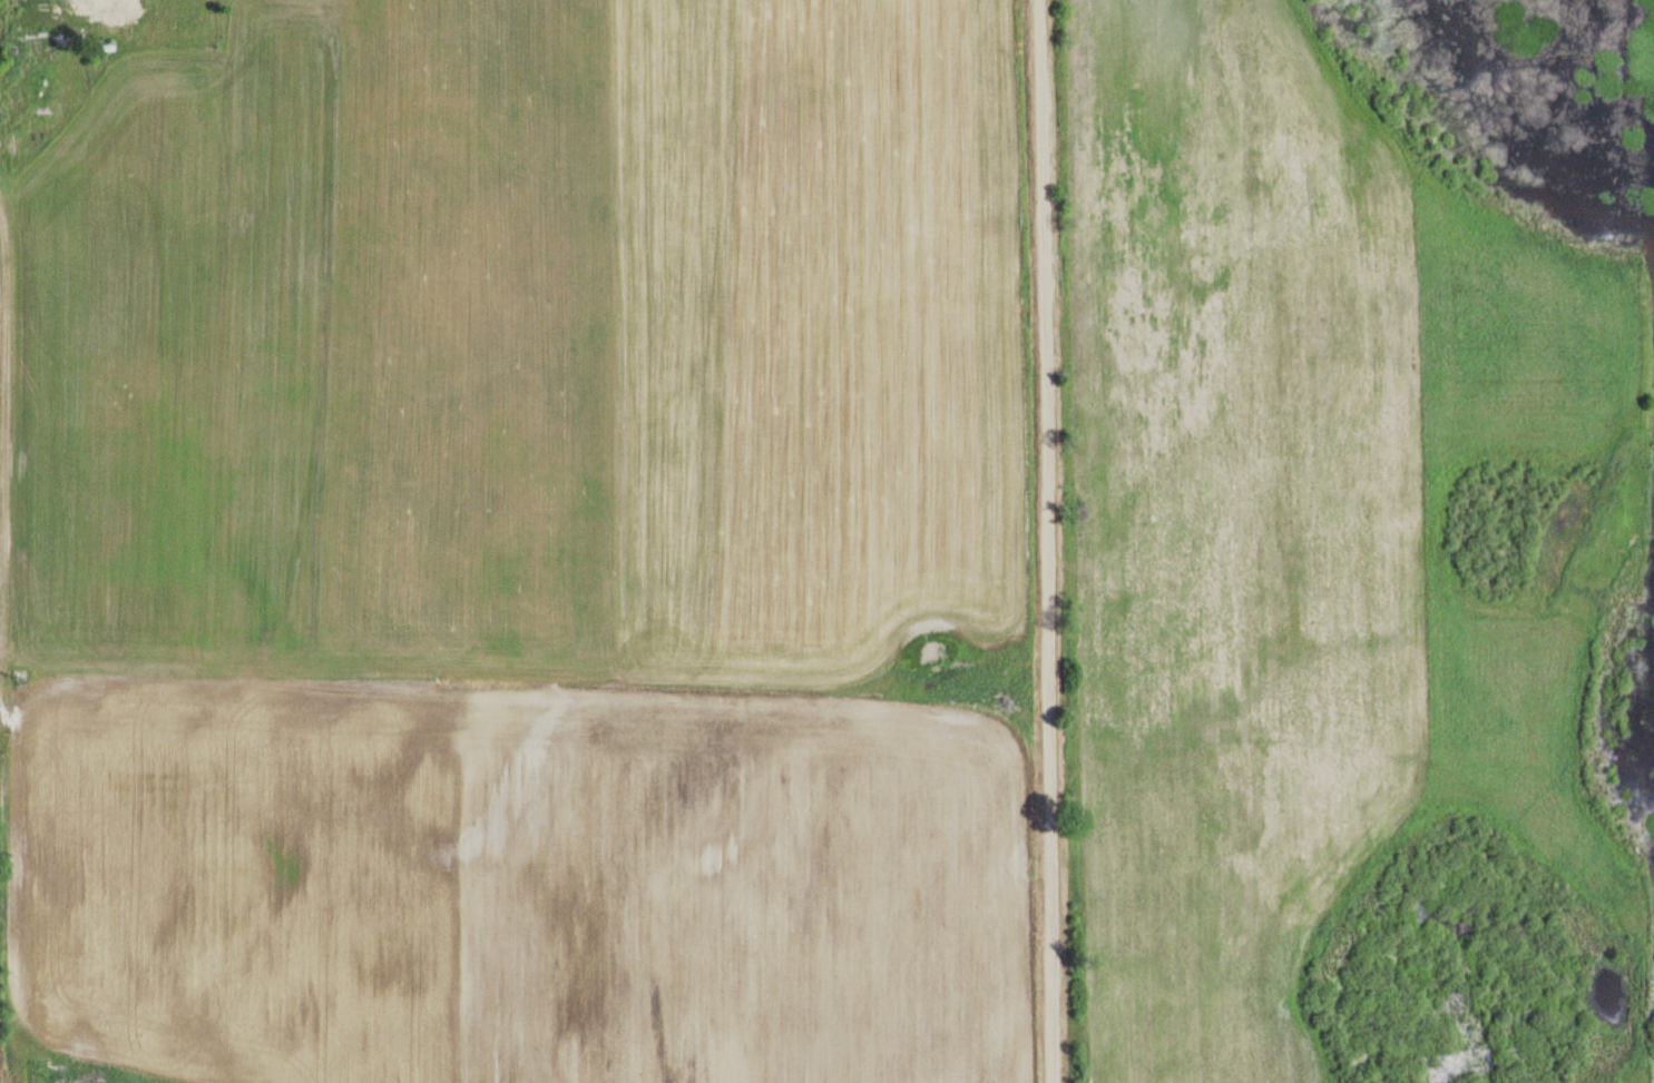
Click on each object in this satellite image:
road: (1047, 541)

